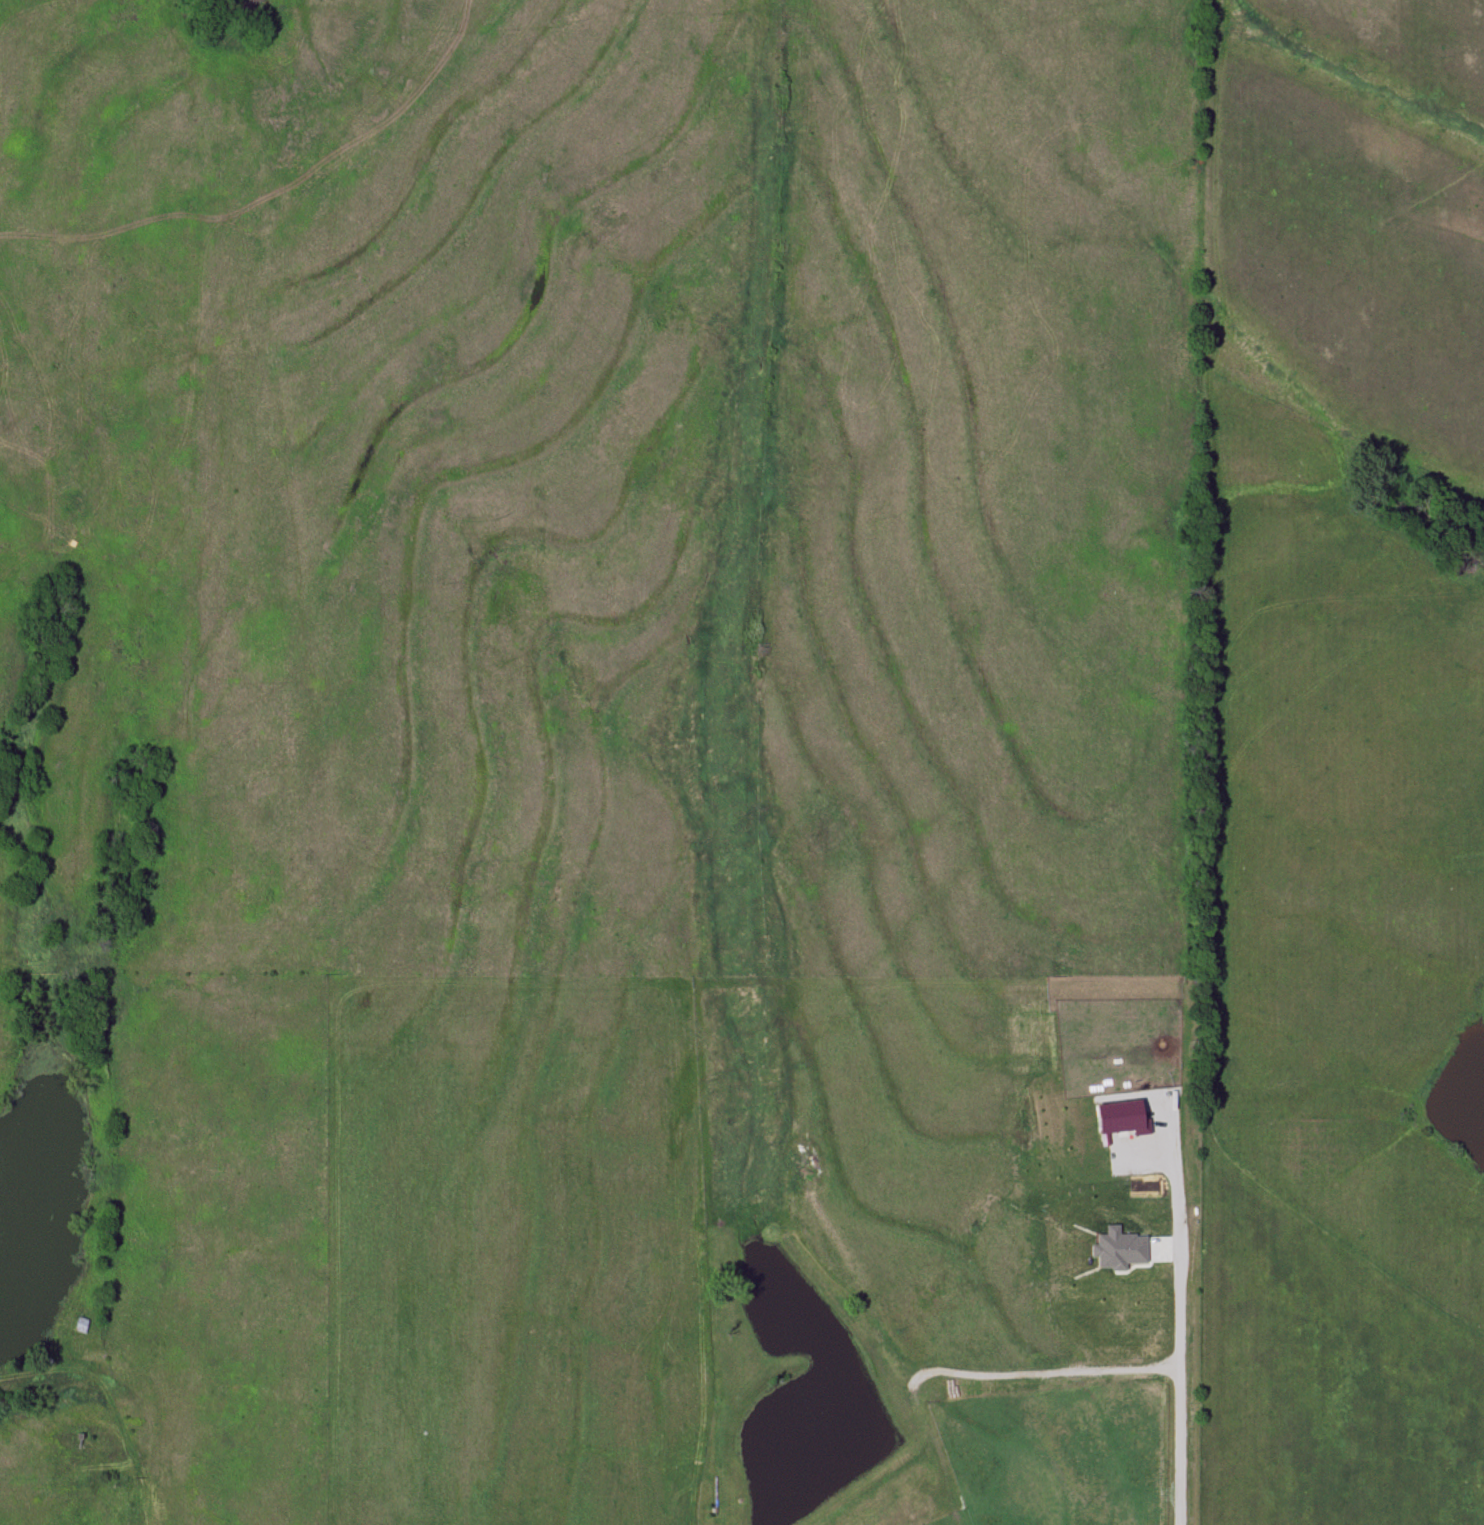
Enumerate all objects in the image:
building: (81, 1325)
road: (1175, 1331)
road: (1055, 1369)

